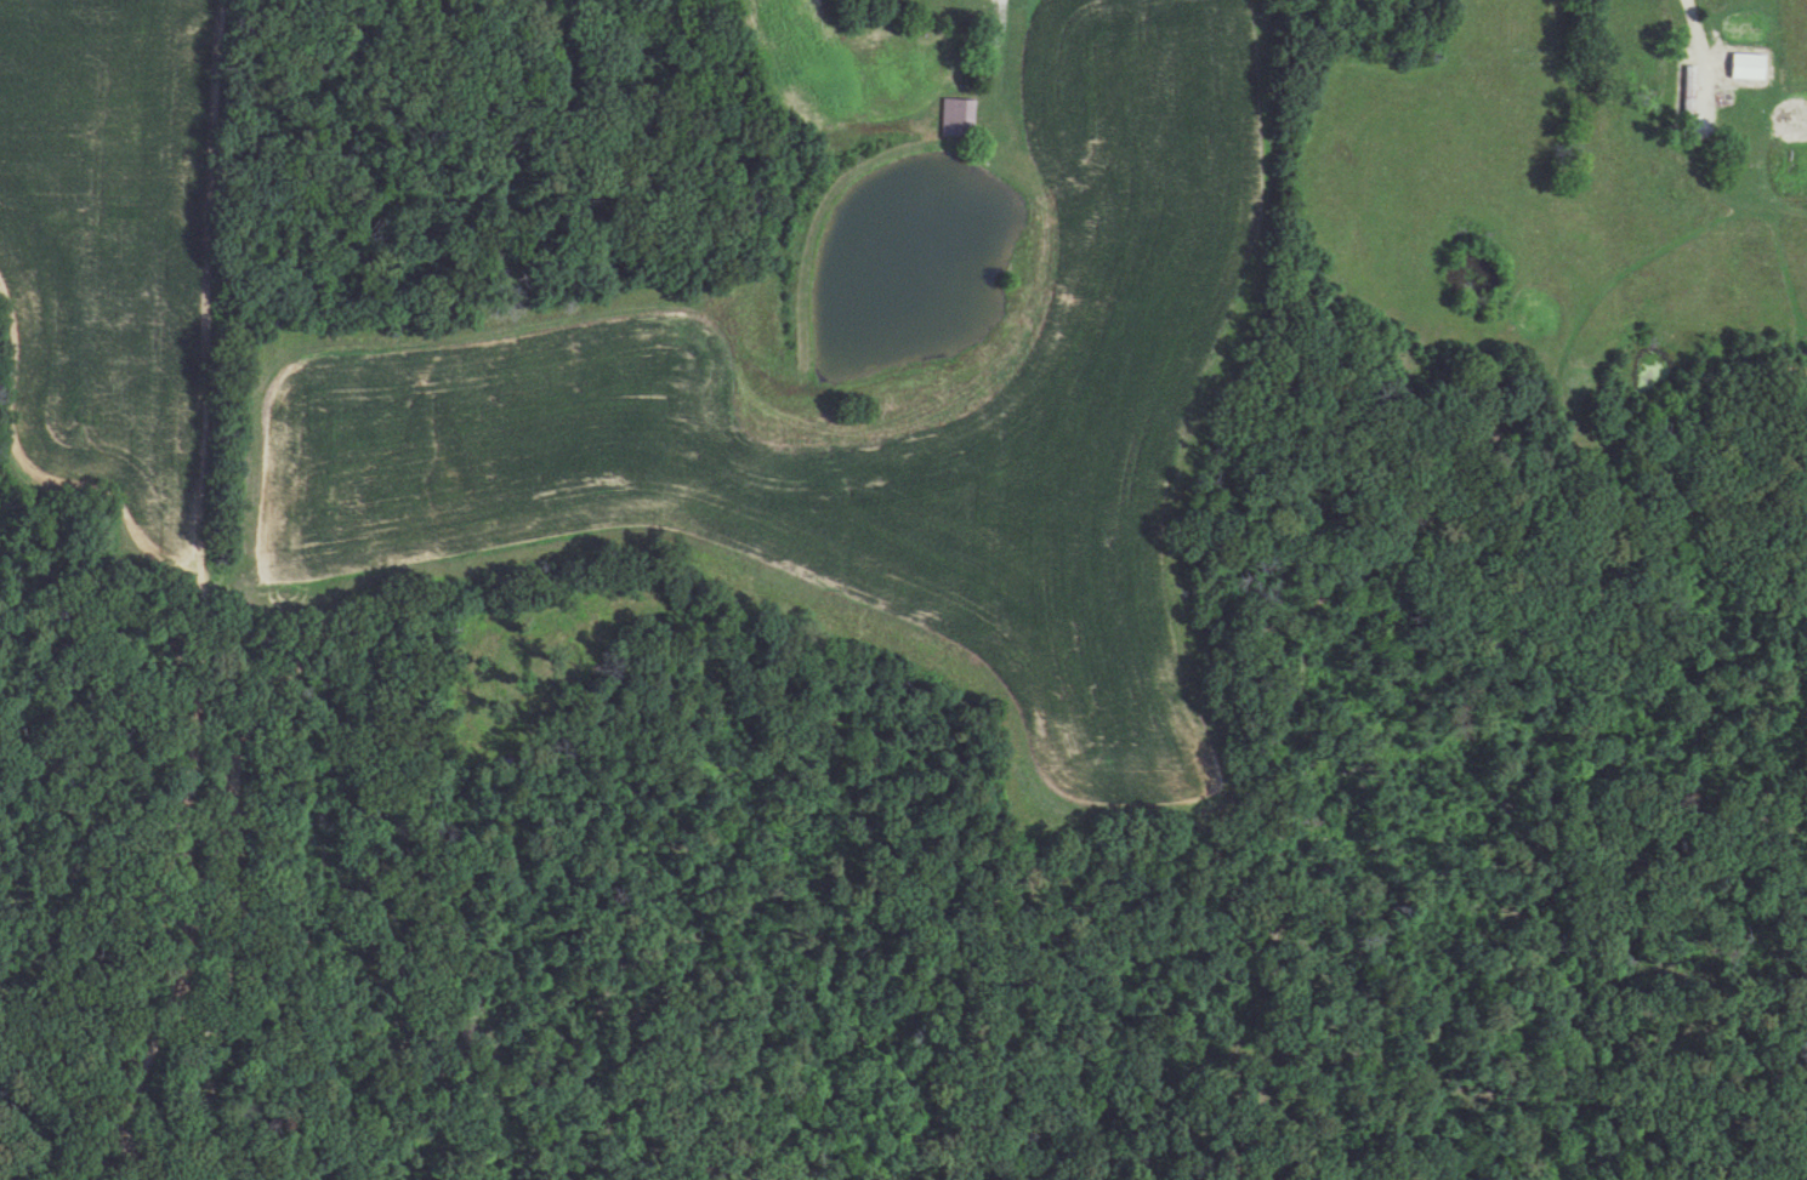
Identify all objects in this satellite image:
road: (1695, 35)
building: (1743, 68)
building: (1687, 98)
building: (954, 119)

